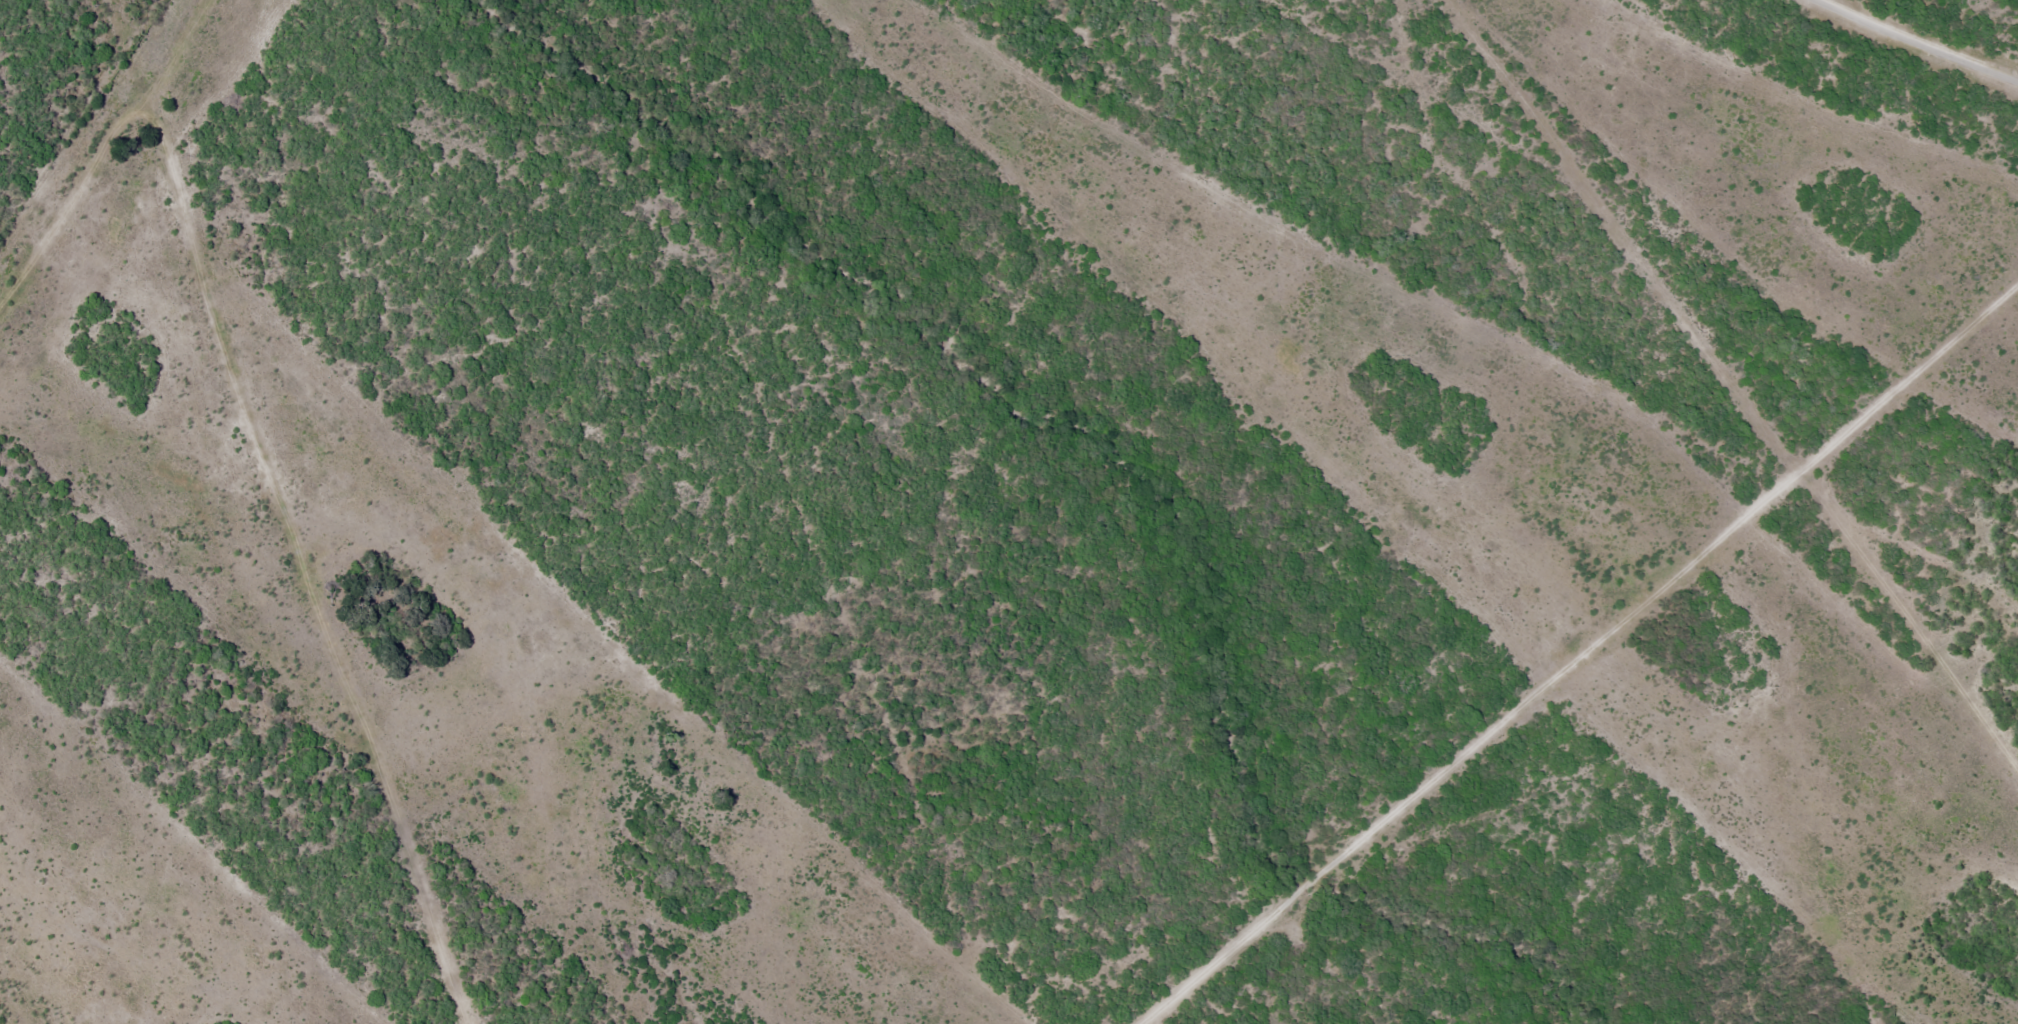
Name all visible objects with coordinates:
road: (1912, 42)

